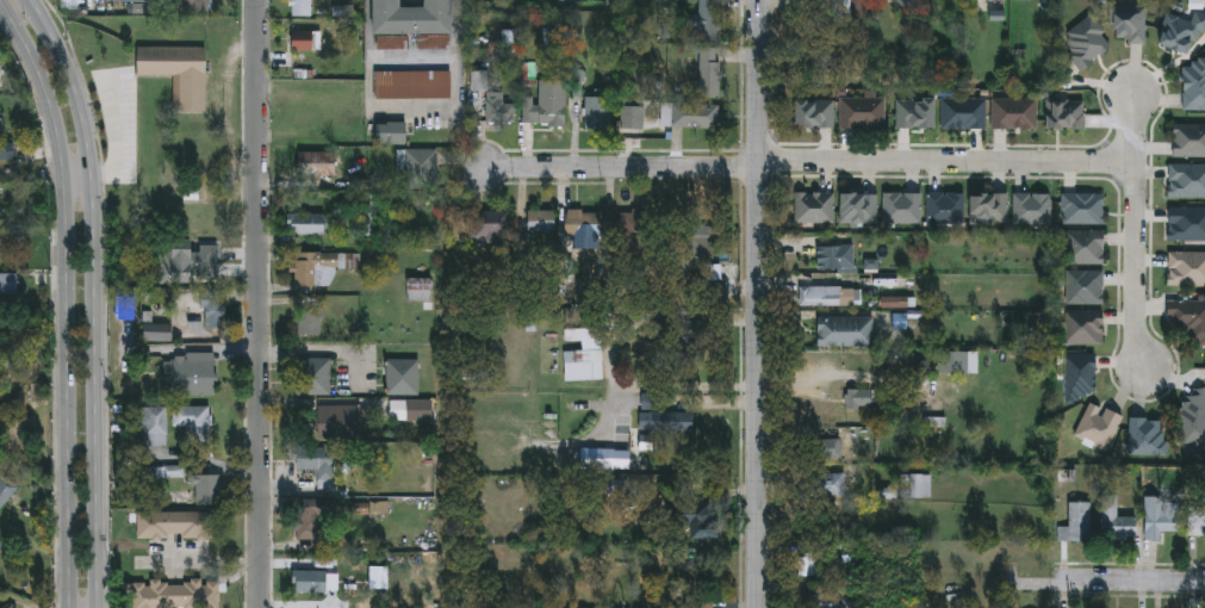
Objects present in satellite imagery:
building: (1023, 0)
building: (903, 2)
building: (70, 4)
building: (303, 6)
building: (850, 13)
building: (411, 17)
building: (712, 19)
building: (1128, 21)
building: (1181, 29)
building: (304, 41)
building: (1085, 41)
building: (710, 70)
building: (178, 74)
building: (1, 75)
building: (414, 82)
building: (1194, 83)
building: (546, 103)
building: (499, 107)
building: (598, 110)
building: (913, 111)
building: (810, 112)
building: (862, 112)
building: (963, 112)
building: (1014, 112)
road: (412, 113)
building: (696, 113)
building: (1064, 113)
building: (392, 131)
road: (124, 138)
building: (1188, 138)
road: (946, 161)
road: (621, 169)
road: (79, 173)
building: (1187, 180)
building: (813, 207)
building: (856, 207)
building: (901, 207)
building: (944, 207)
building: (987, 207)
building: (1082, 207)
building: (1032, 209)
building: (542, 219)
building: (311, 222)
building: (631, 222)
building: (493, 223)
building: (1186, 223)
building: (585, 224)
road: (1133, 229)
building: (1085, 247)
building: (1, 249)
building: (833, 256)
building: (184, 260)
building: (315, 268)
building: (1186, 268)
building: (714, 271)
building: (8, 285)
building: (1085, 286)
building: (420, 287)
building: (818, 296)
road: (99, 297)
road: (68, 298)
road: (260, 304)
road: (758, 304)
building: (213, 309)
building: (1188, 317)
building: (310, 321)
building: (1083, 328)
building: (844, 331)
building: (159, 333)
road: (205, 350)
road: (328, 353)
building: (584, 362)
building: (191, 374)
building: (313, 374)
building: (403, 374)
building: (1080, 376)
road: (813, 383)
road: (685, 387)
building: (857, 398)
road: (656, 405)
road: (715, 407)
building: (420, 408)
building: (667, 418)
building: (340, 421)
building: (1191, 421)
building: (192, 423)
building: (1099, 424)
building: (154, 427)
building: (23, 430)
building: (1147, 435)
building: (824, 449)
building: (318, 459)
building: (827, 483)
building: (914, 484)
building: (209, 488)
building: (6, 490)
building: (317, 514)
building: (825, 519)
building: (1114, 519)
building: (1161, 520)
building: (1075, 521)
building: (176, 522)
building: (803, 566)
building: (310, 579)
road: (1131, 581)
building: (176, 593)

